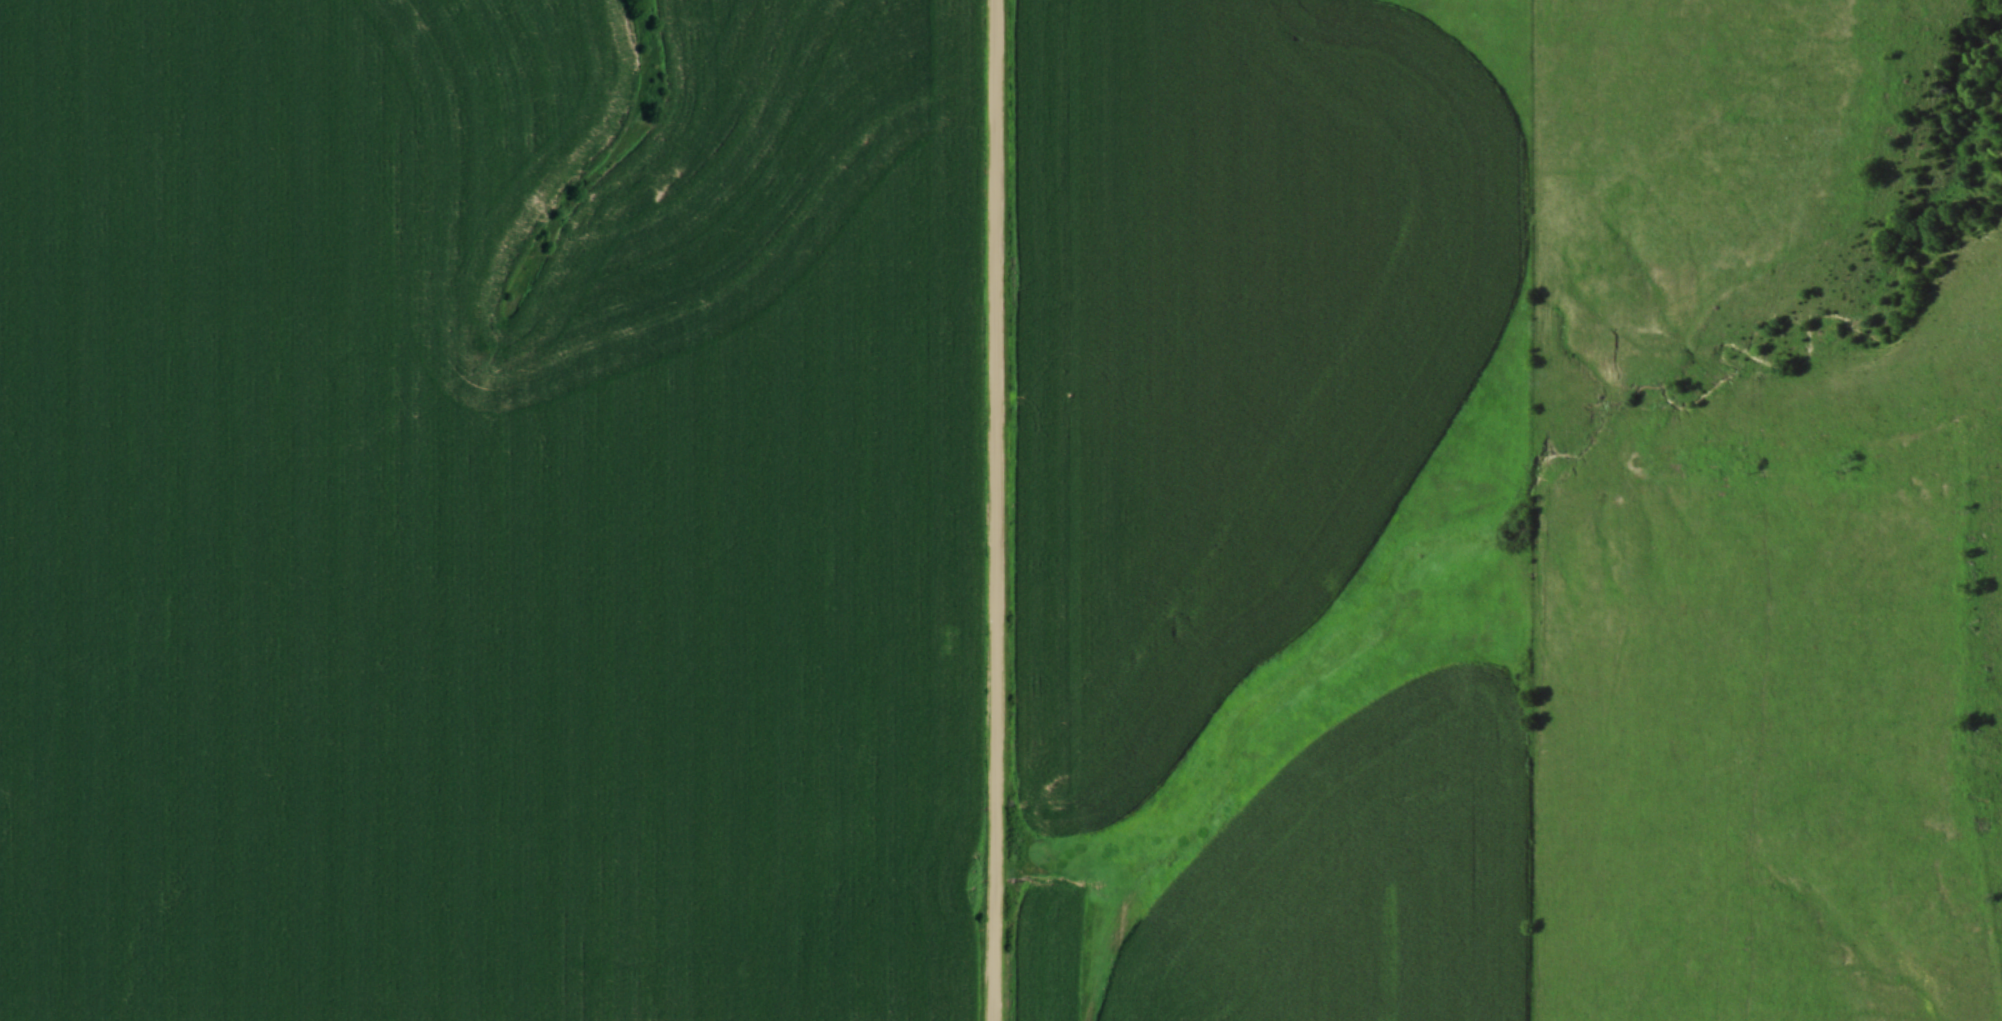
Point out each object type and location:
road: (998, 510)

